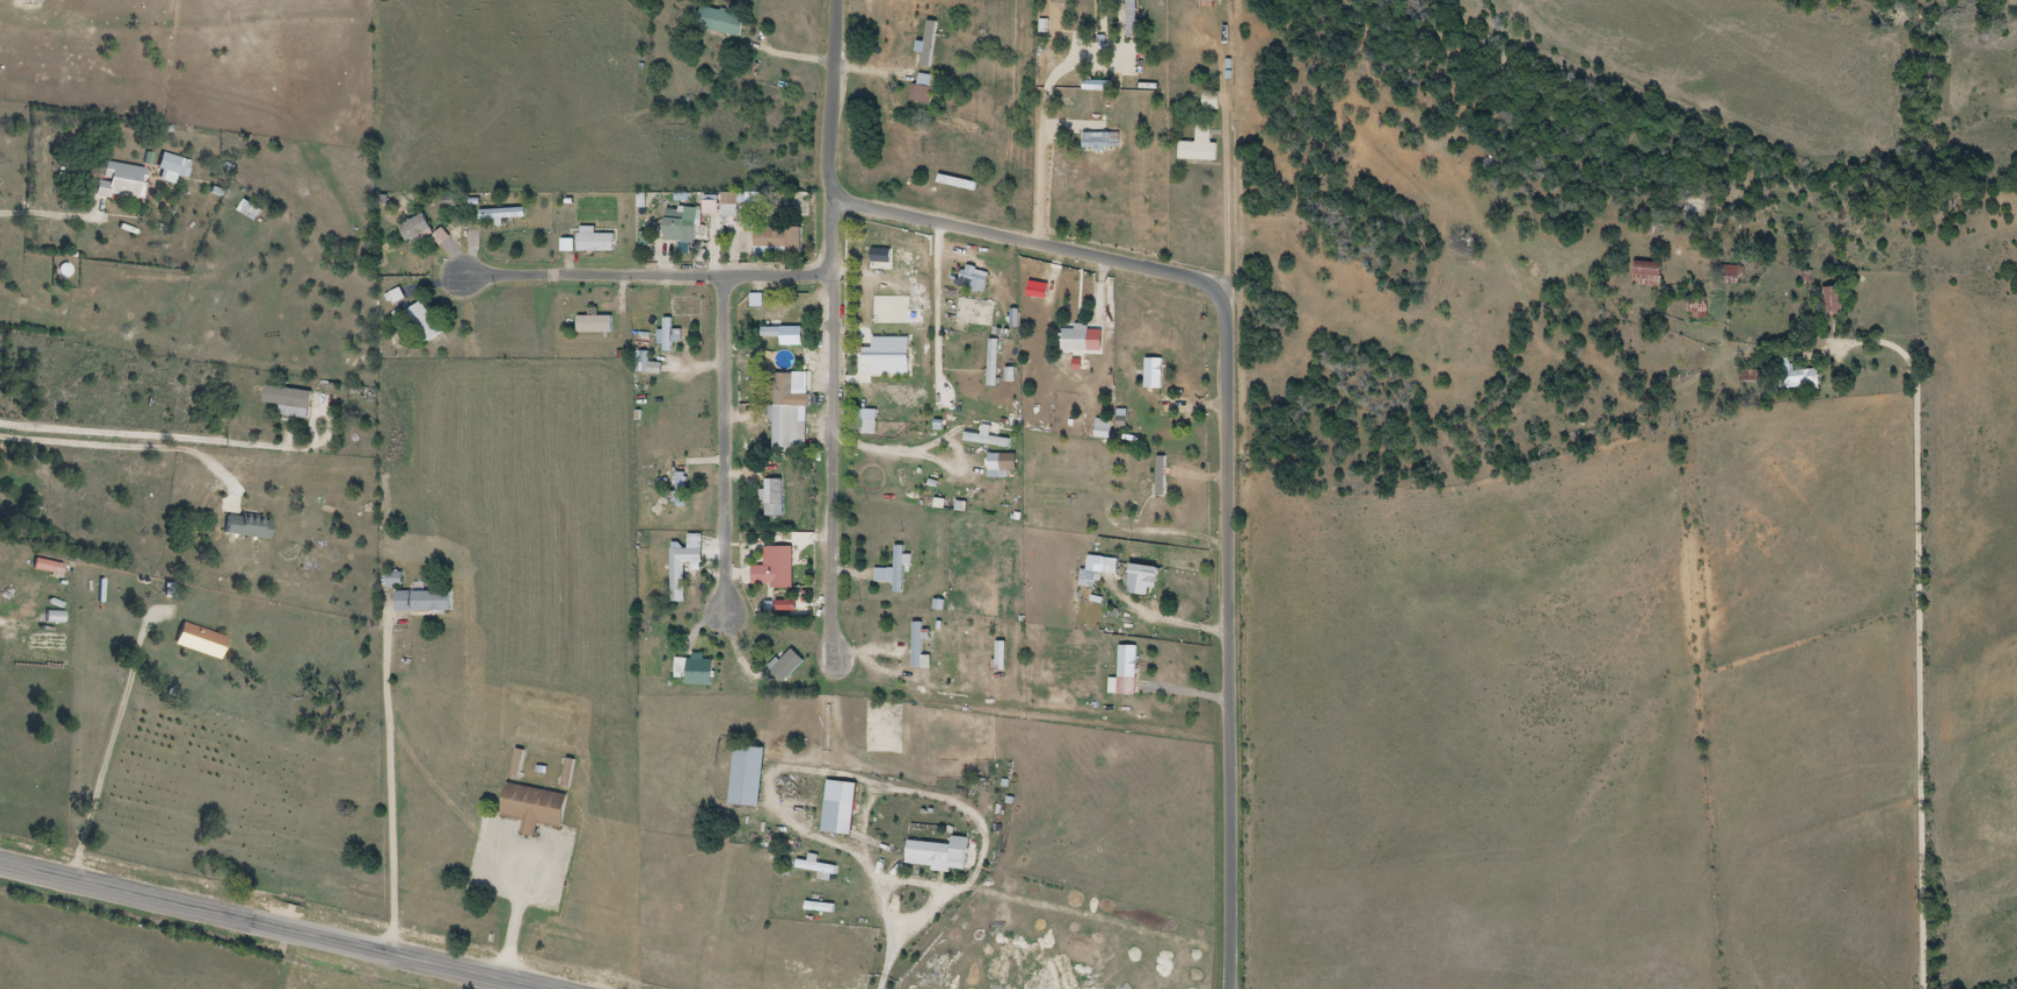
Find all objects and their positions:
building: (1209, 0)
road: (4, 15)
building: (1134, 18)
building: (723, 21)
building: (931, 42)
road: (789, 56)
building: (1101, 85)
building: (927, 87)
road: (833, 97)
building: (1213, 100)
building: (1104, 140)
building: (1203, 146)
road: (1044, 170)
building: (144, 180)
building: (252, 210)
building: (495, 215)
building: (681, 225)
building: (416, 227)
building: (595, 240)
building: (781, 240)
building: (886, 256)
building: (1735, 272)
building: (1657, 273)
road: (636, 274)
building: (976, 276)
building: (1829, 300)
road: (940, 306)
building: (1033, 306)
building: (974, 311)
building: (426, 322)
building: (596, 324)
building: (782, 332)
building: (668, 334)
building: (1078, 338)
building: (781, 346)
building: (995, 362)
building: (1155, 373)
building: (1792, 376)
building: (292, 400)
building: (787, 413)
road: (828, 427)
building: (867, 427)
road: (142, 437)
road: (1228, 439)
road: (100, 447)
road: (724, 452)
building: (1010, 462)
building: (682, 489)
building: (1143, 493)
building: (776, 497)
building: (250, 525)
building: (50, 565)
building: (777, 567)
building: (684, 569)
building: (896, 570)
building: (1092, 573)
building: (1144, 578)
building: (397, 579)
building: (426, 600)
building: (57, 616)
road: (1916, 637)
building: (203, 640)
building: (920, 644)
building: (789, 664)
building: (703, 670)
building: (1129, 670)
road: (2015, 696)
road: (114, 743)
building: (519, 761)
building: (753, 775)
road: (392, 780)
building: (538, 807)
building: (837, 816)
road: (935, 828)
road: (835, 845)
building: (944, 854)
road: (2003, 882)
road: (518, 917)
road: (267, 926)
road: (1959, 972)

